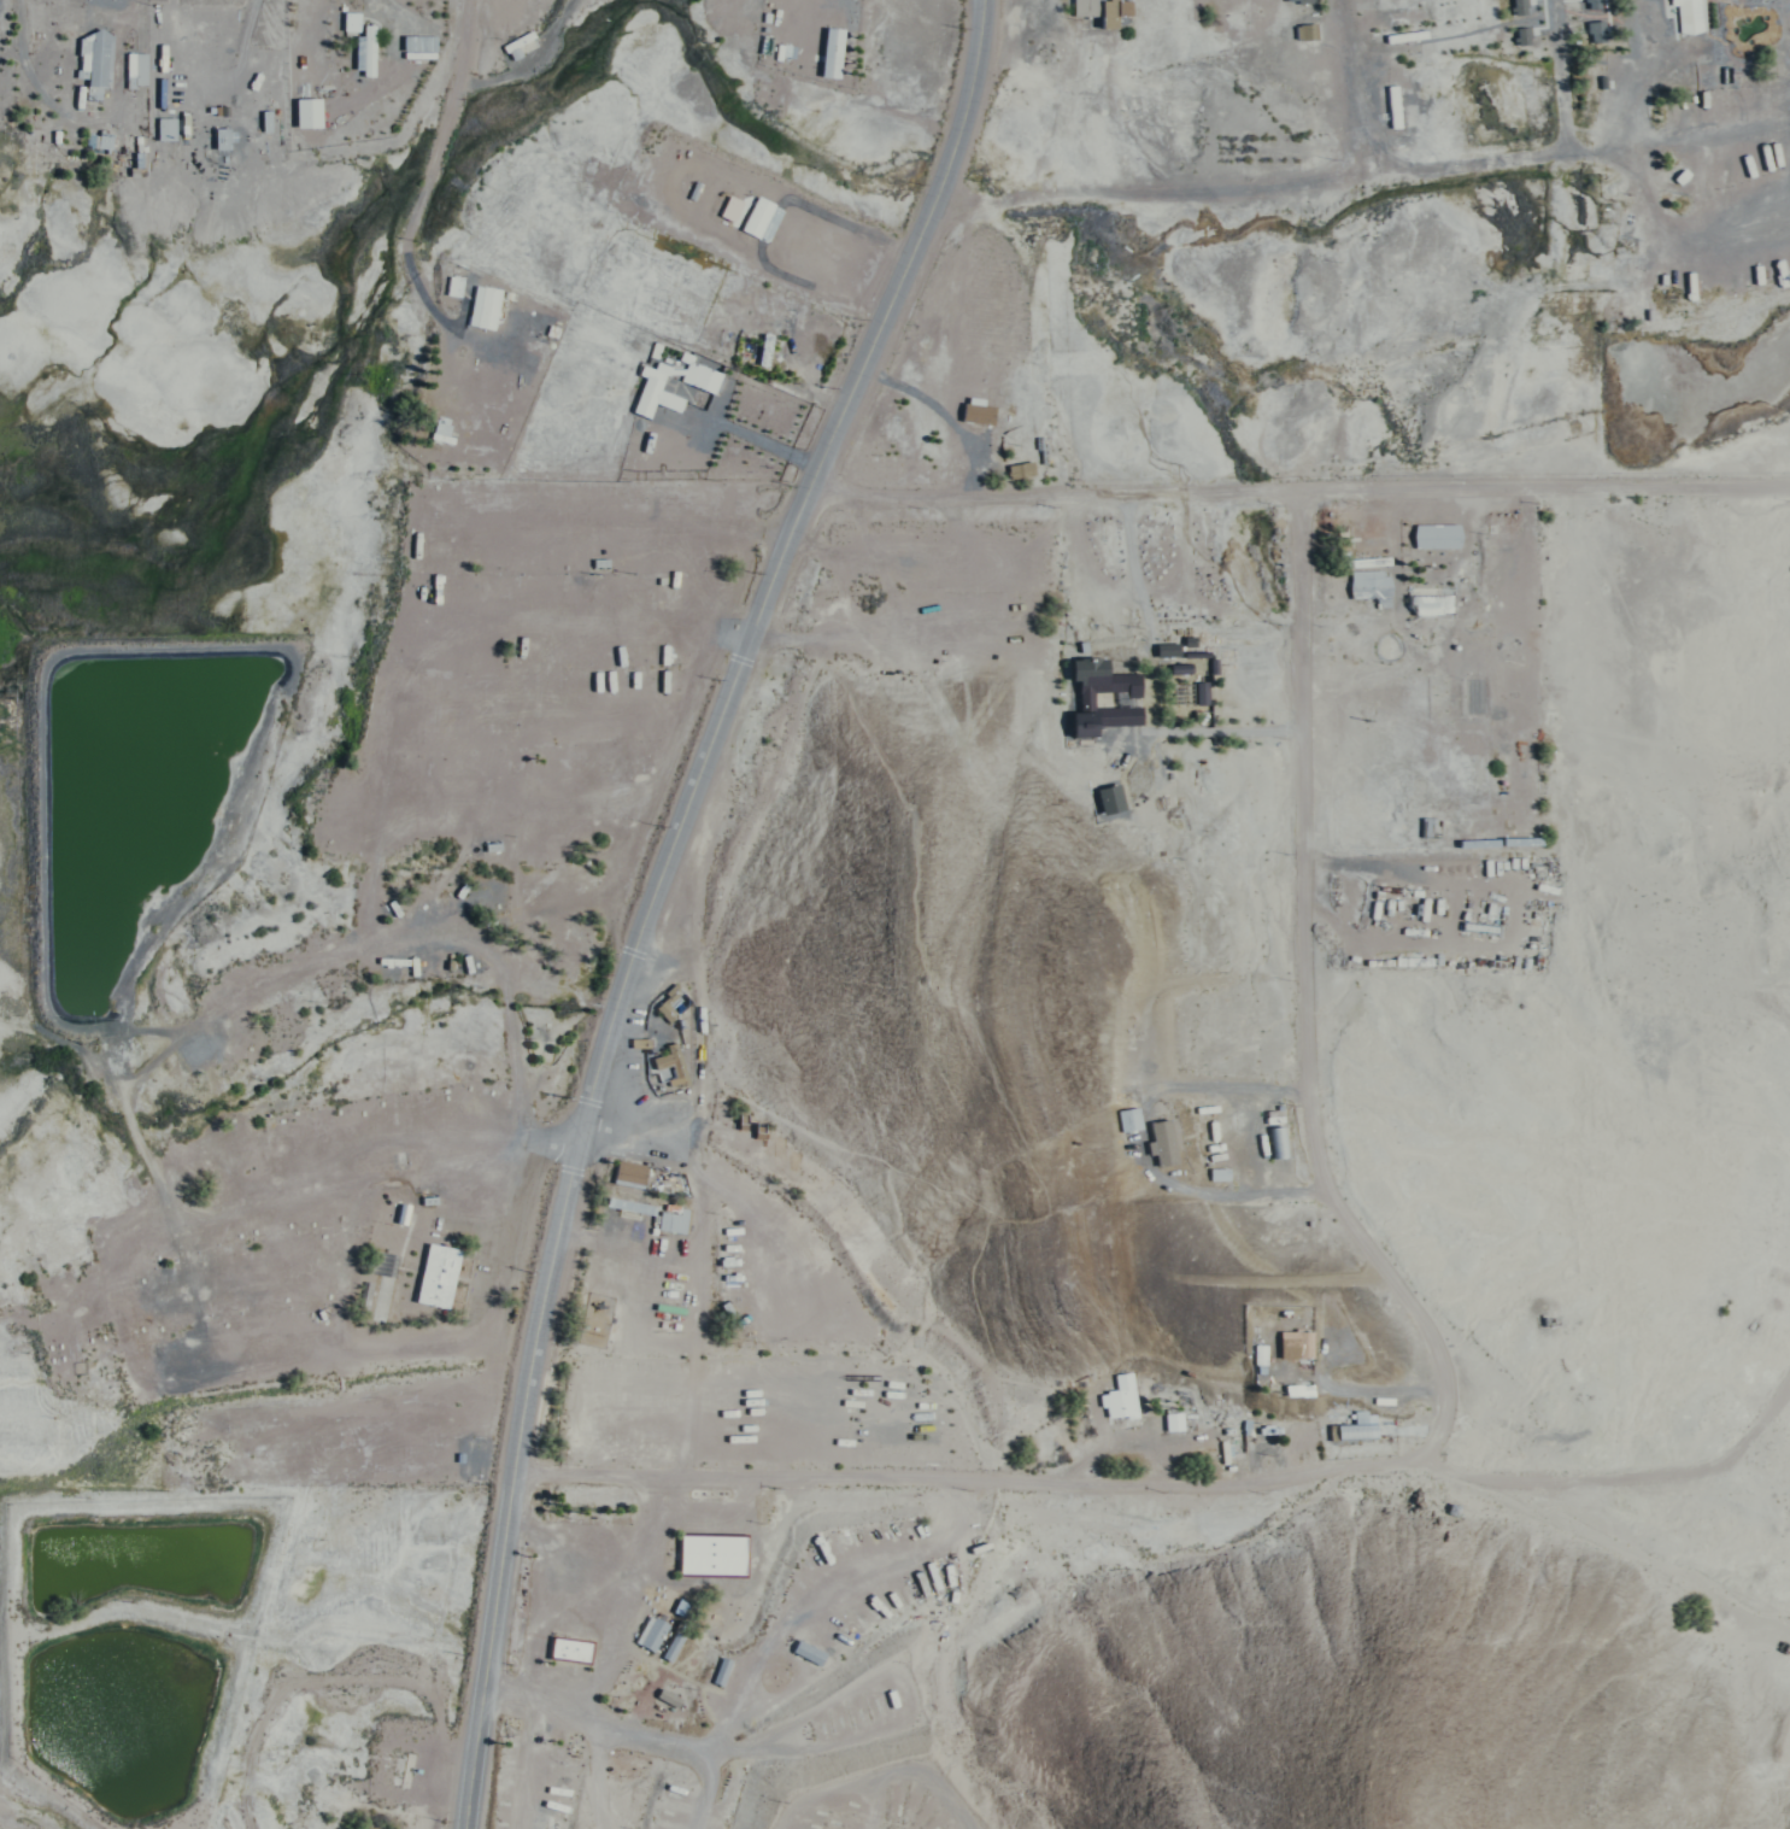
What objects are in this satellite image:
building: (1303, 1)
building: (1595, 4)
building: (1512, 5)
building: (1521, 7)
building: (1102, 10)
building: (1689, 14)
building: (338, 16)
building: (1515, 28)
building: (1307, 30)
building: (1598, 33)
building: (1404, 35)
building: (515, 42)
building: (354, 45)
building: (409, 47)
building: (823, 49)
building: (83, 51)
building: (369, 51)
building: (834, 53)
building: (99, 58)
building: (123, 63)
building: (140, 70)
road: (1348, 82)
road: (972, 95)
building: (293, 106)
building: (1392, 106)
building: (312, 113)
building: (252, 115)
building: (152, 123)
road: (439, 123)
building: (170, 129)
building: (207, 131)
road: (1677, 136)
road: (1534, 143)
building: (104, 145)
building: (127, 154)
building: (744, 212)
building: (458, 287)
building: (480, 304)
building: (755, 344)
building: (689, 371)
building: (642, 386)
building: (970, 409)
building: (445, 434)
building: (1020, 468)
road: (1292, 492)
building: (1437, 535)
building: (1344, 543)
building: (1371, 561)
building: (1372, 586)
building: (673, 593)
building: (1432, 603)
road: (575, 623)
road: (733, 626)
building: (1189, 640)
building: (1167, 649)
building: (1196, 652)
road: (736, 657)
building: (1213, 667)
building: (1179, 668)
building: (1202, 691)
building: (1102, 696)
road: (676, 715)
road: (539, 720)
road: (710, 727)
building: (1109, 798)
road: (495, 804)
building: (1431, 826)
building: (1521, 839)
building: (1478, 842)
road: (375, 887)
building: (1479, 926)
road: (450, 928)
park: (465, 977)
road: (1307, 999)
building: (669, 1002)
building: (670, 1065)
road: (583, 1102)
building: (1129, 1119)
road: (618, 1130)
road: (141, 1131)
building: (1277, 1139)
road: (550, 1141)
building: (1161, 1143)
road: (1143, 1144)
building: (1284, 1144)
road: (574, 1169)
building: (630, 1172)
building: (1219, 1172)
road: (354, 1184)
building: (630, 1207)
building: (673, 1218)
building: (439, 1274)
road: (270, 1276)
road: (488, 1283)
road: (698, 1291)
road: (323, 1302)
building: (599, 1308)
parking lot: (1342, 1337)
building: (1297, 1341)
road: (423, 1347)
building: (1256, 1354)
building: (1293, 1389)
road: (1358, 1389)
building: (1121, 1397)
building: (1173, 1420)
building: (1357, 1428)
road: (1407, 1430)
building: (741, 1455)
road: (1174, 1487)
building: (1454, 1508)
road: (1613, 1552)
building: (714, 1555)
road: (501, 1560)
road: (822, 1581)
road: (629, 1599)
building: (650, 1634)
building: (671, 1647)
building: (571, 1651)
building: (806, 1651)
building: (723, 1671)
building: (669, 1700)
road: (805, 1707)
road: (598, 1727)
road: (527, 1768)
road: (915, 1770)
road: (605, 1778)
road: (708, 1793)
road: (24, 1815)

